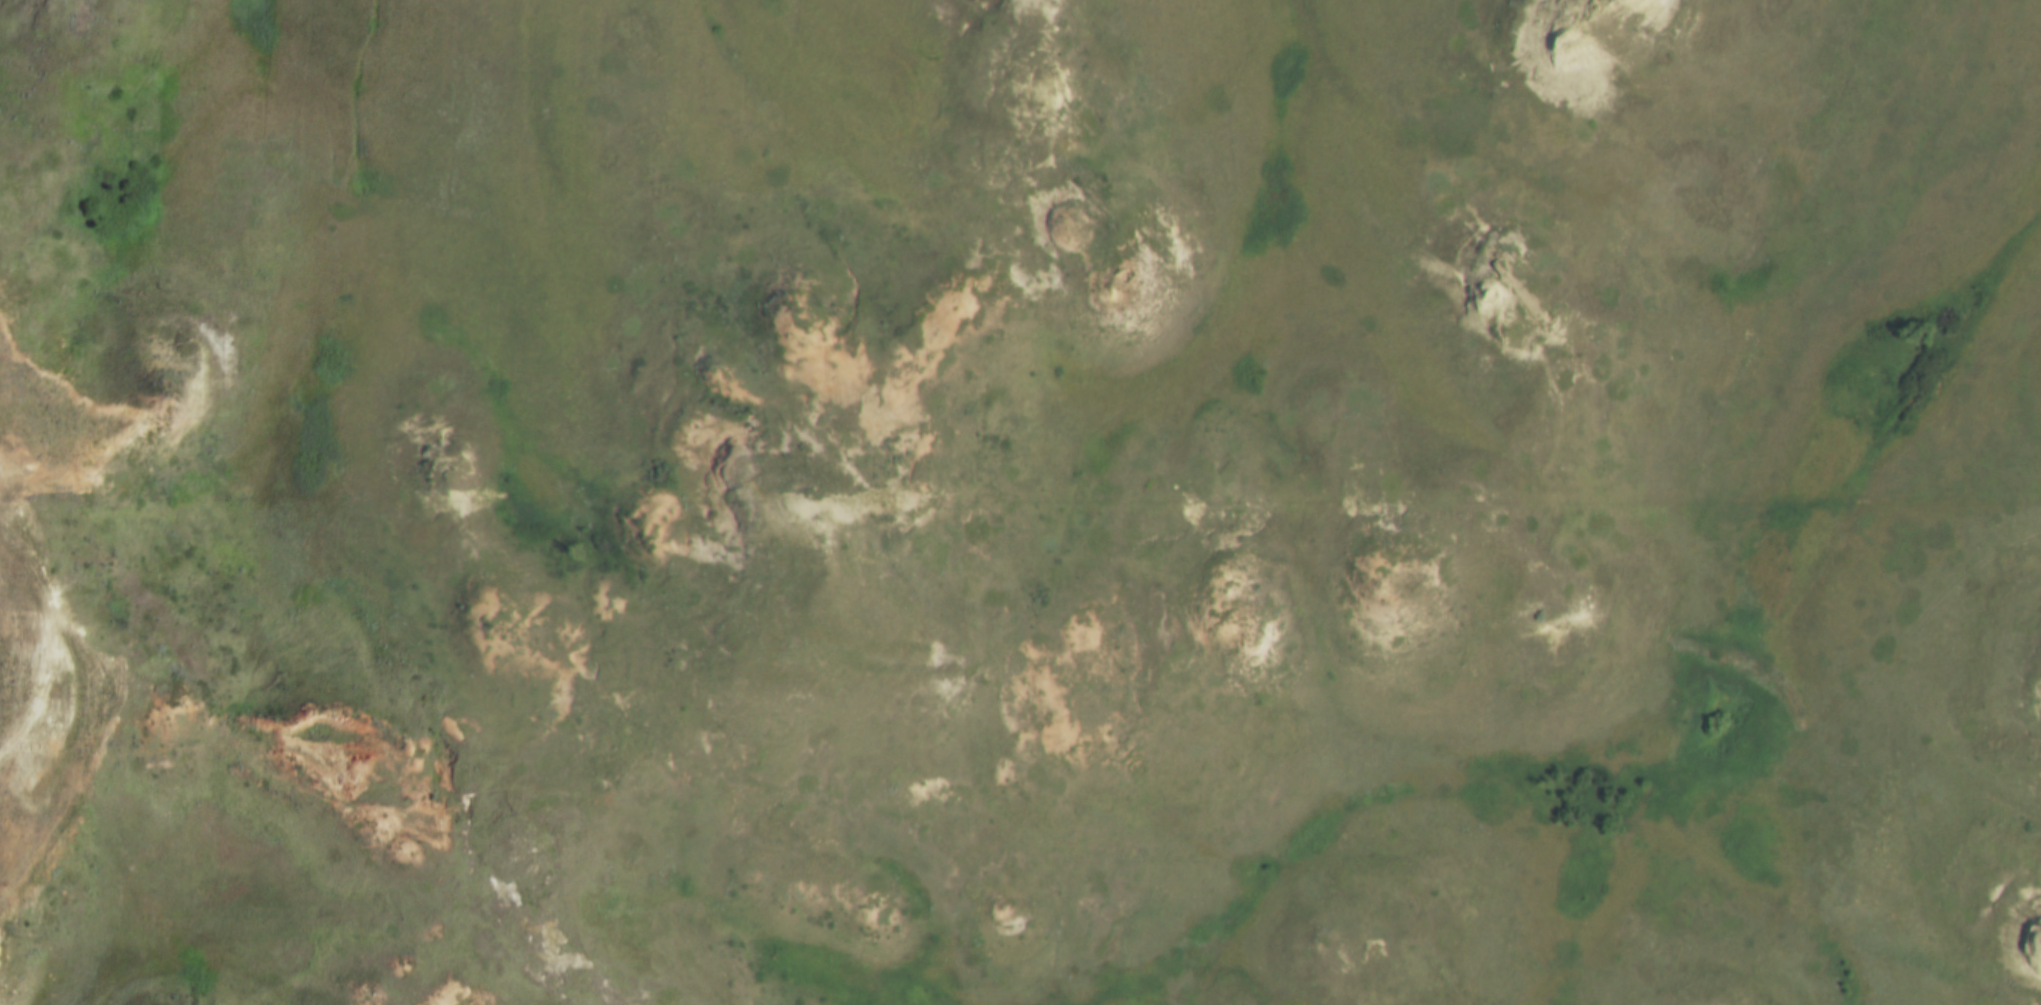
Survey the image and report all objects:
quarry: (43, 719)

